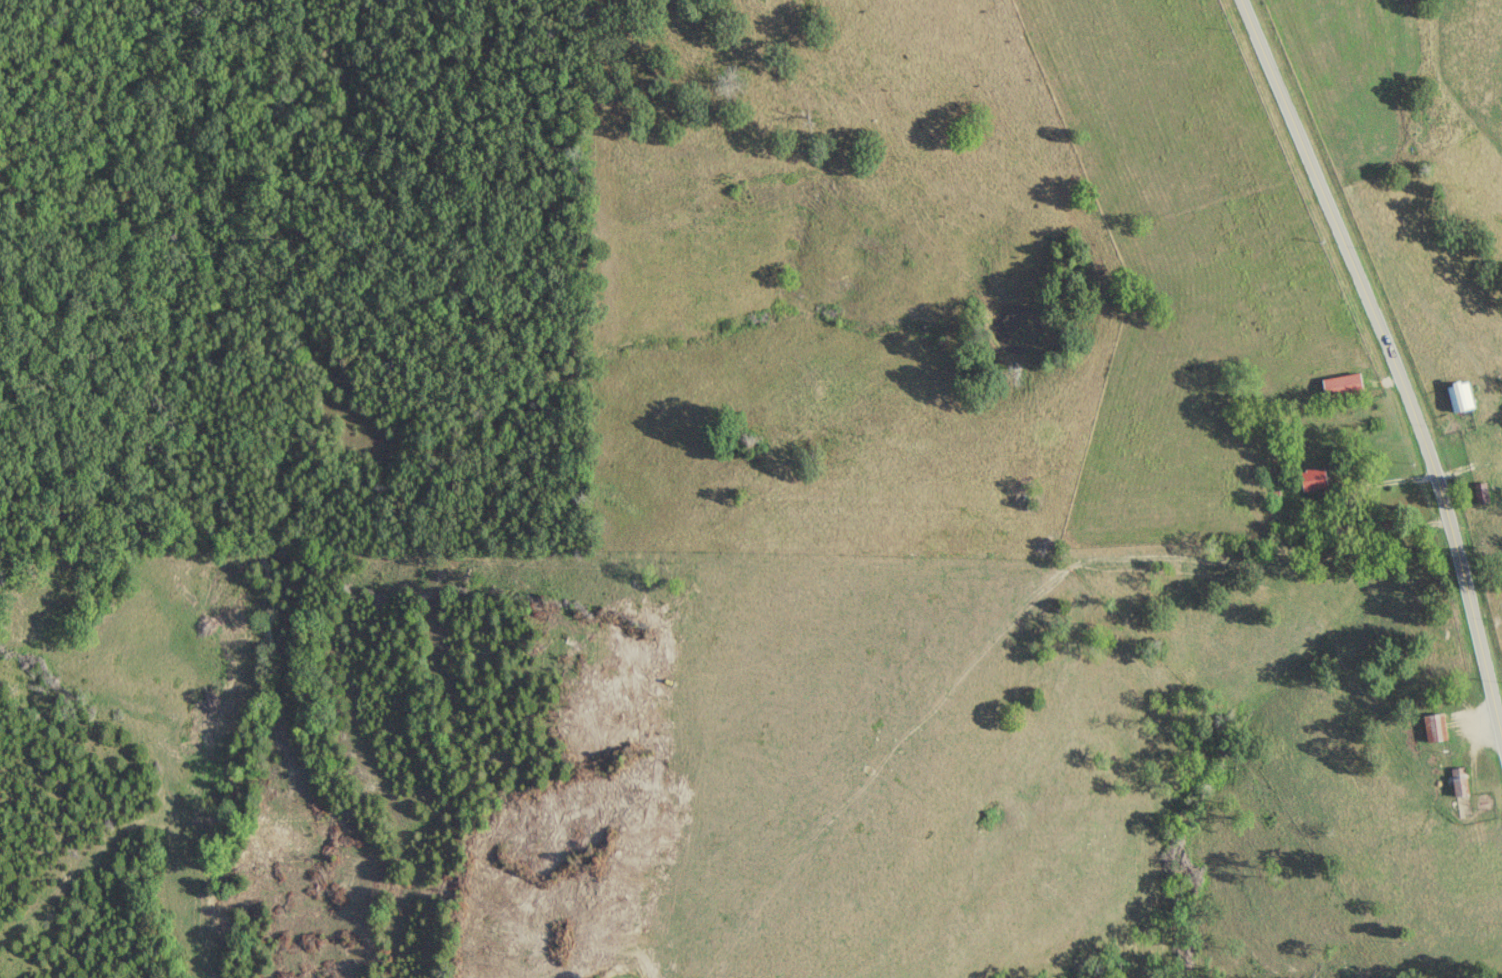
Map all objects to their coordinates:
road: (1386, 372)
building: (1344, 386)
building: (1462, 398)
building: (1436, 728)

